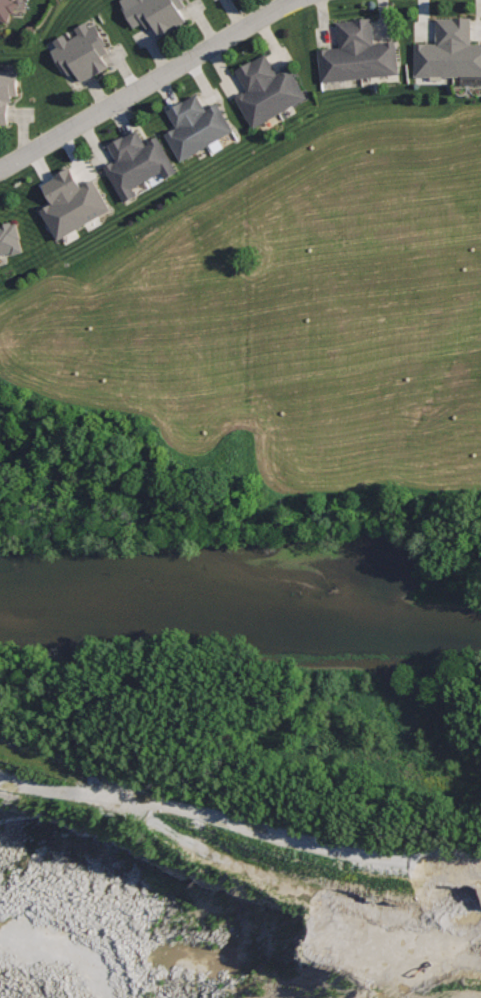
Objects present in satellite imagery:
building: (7, 9)
building: (157, 13)
building: (449, 50)
building: (82, 51)
building: (358, 53)
road: (148, 84)
building: (266, 89)
building: (7, 91)
building: (196, 125)
building: (139, 161)
building: (73, 203)
building: (9, 237)
river: (240, 623)
quarry: (239, 810)
road: (239, 835)

